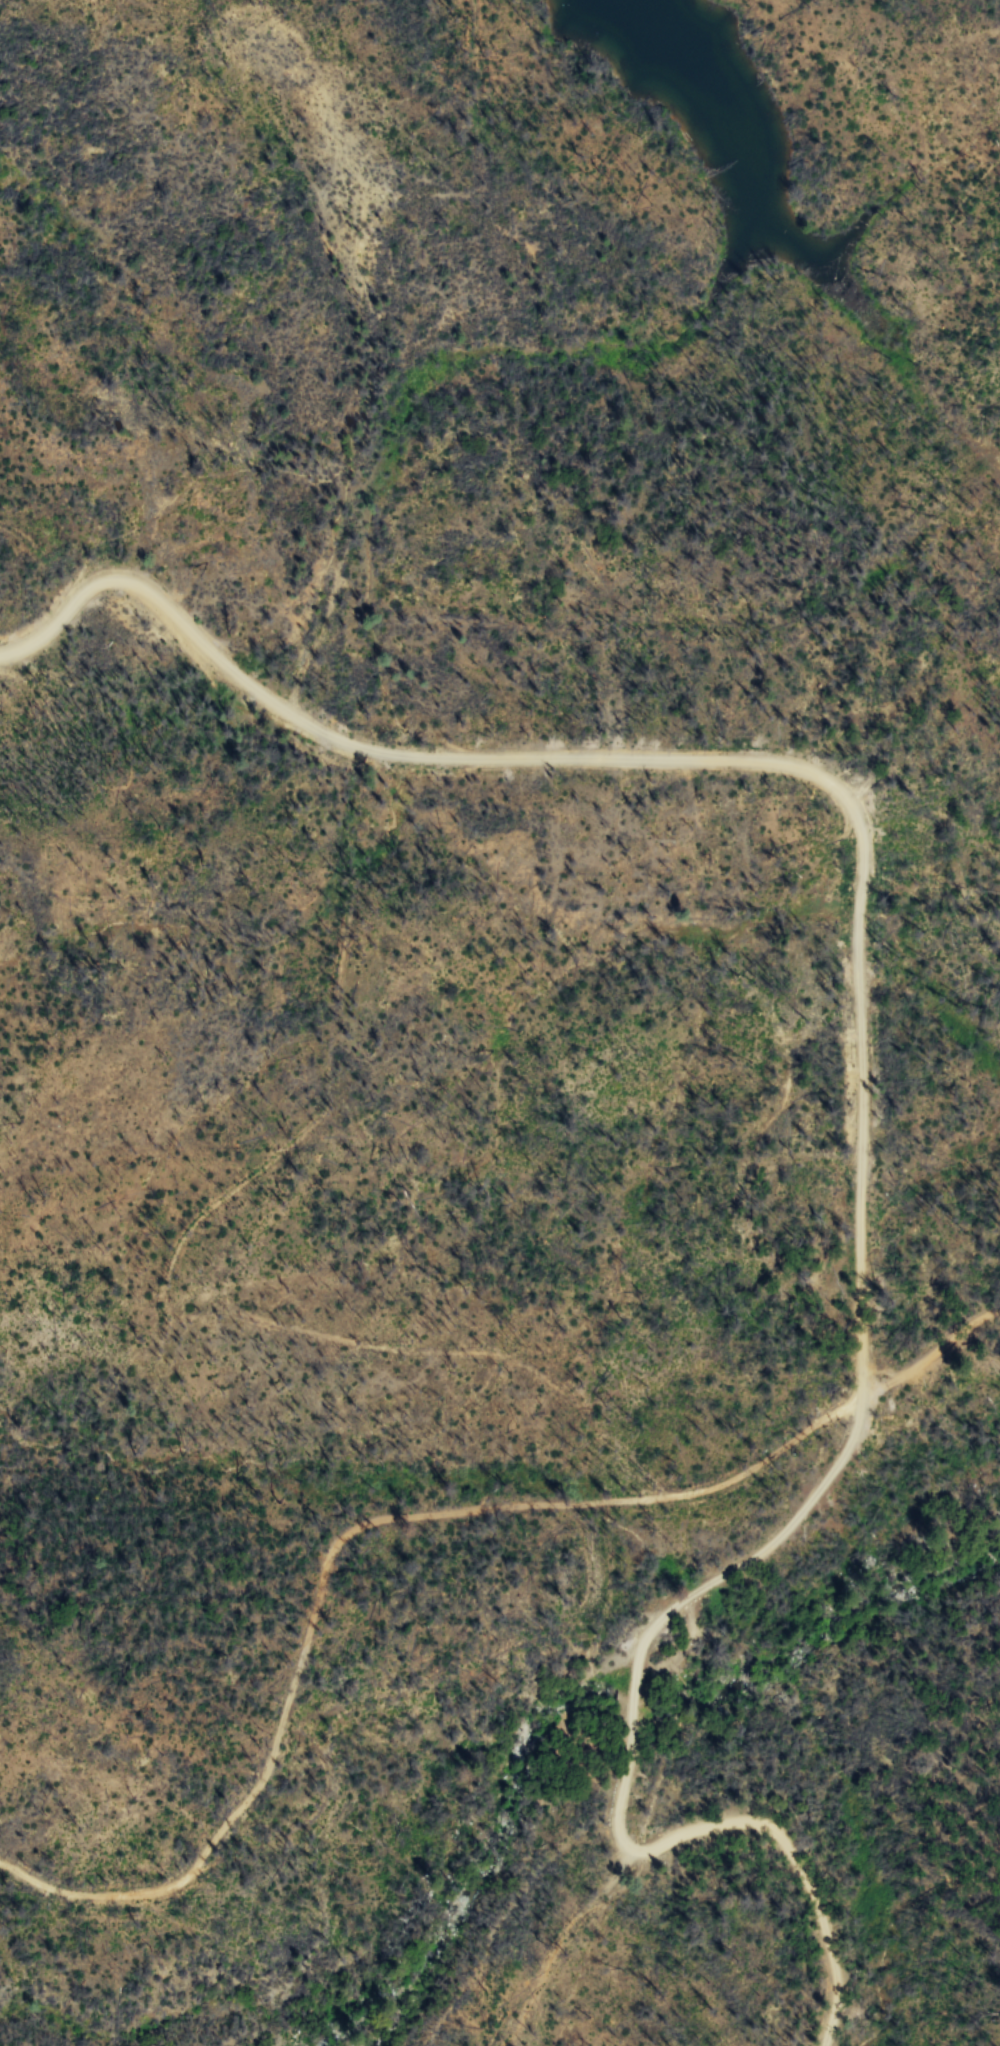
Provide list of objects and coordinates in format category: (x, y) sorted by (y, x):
road: (863, 1090)
road: (934, 1355)
road: (337, 1544)

